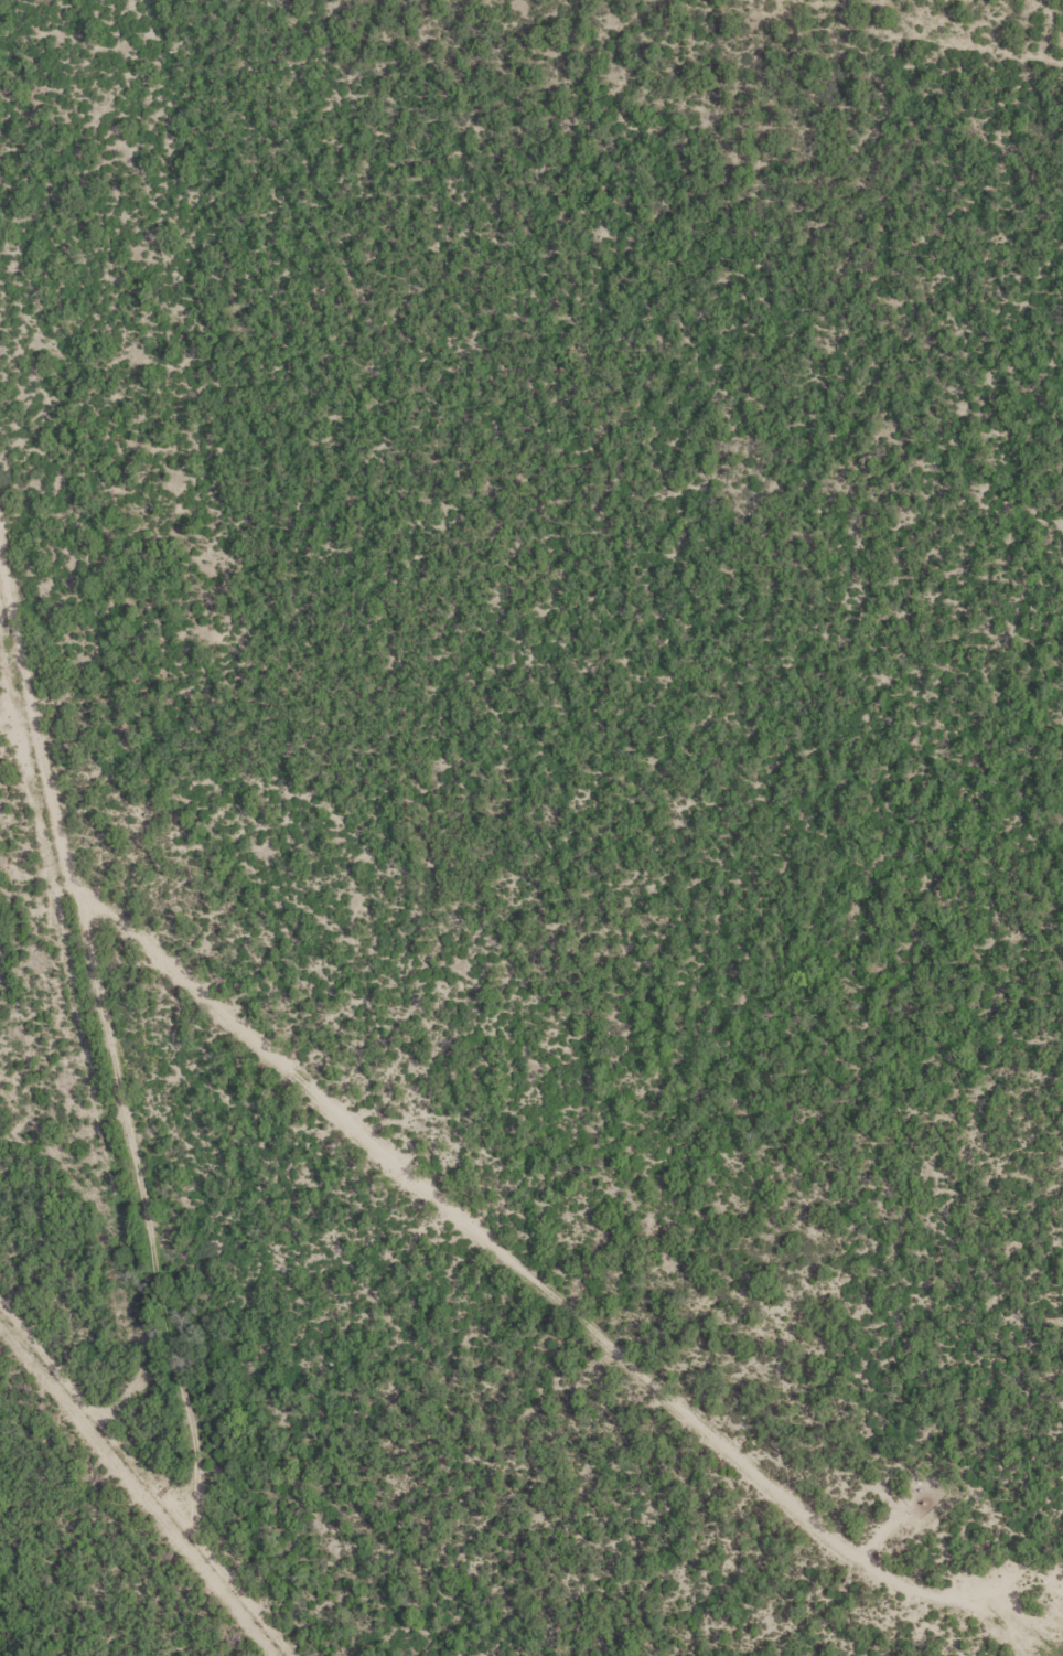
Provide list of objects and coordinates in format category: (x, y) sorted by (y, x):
road: (107, 1015)
road: (150, 1476)

